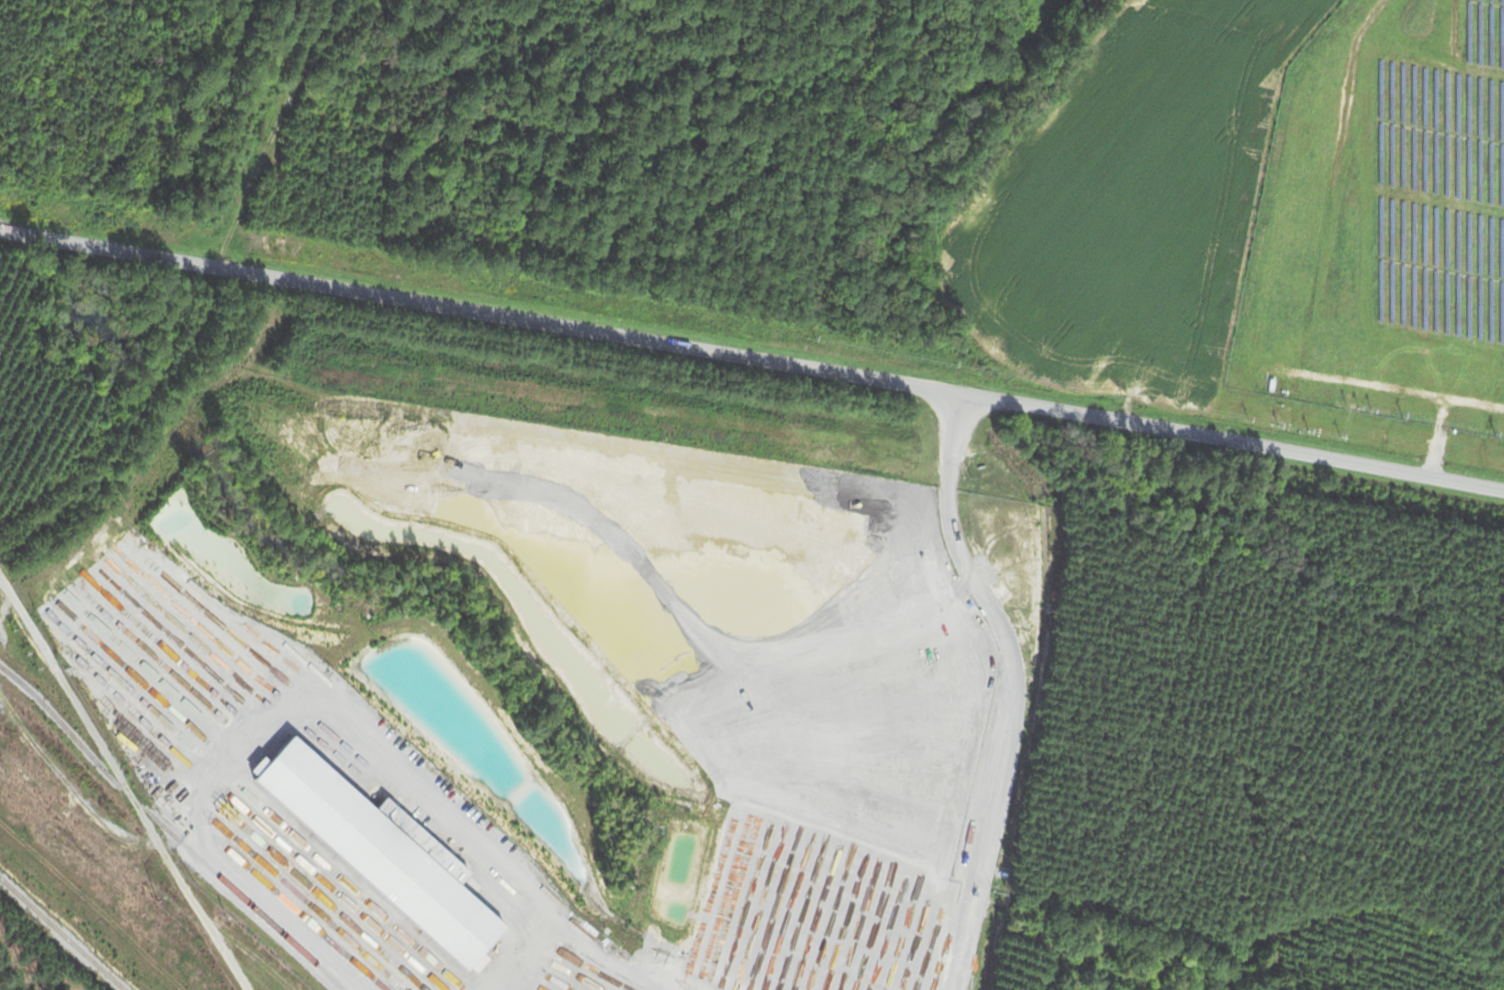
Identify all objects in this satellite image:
road: (752, 366)
road: (1011, 691)
road: (124, 784)
building: (375, 859)
railway: (62, 933)
road: (612, 961)

